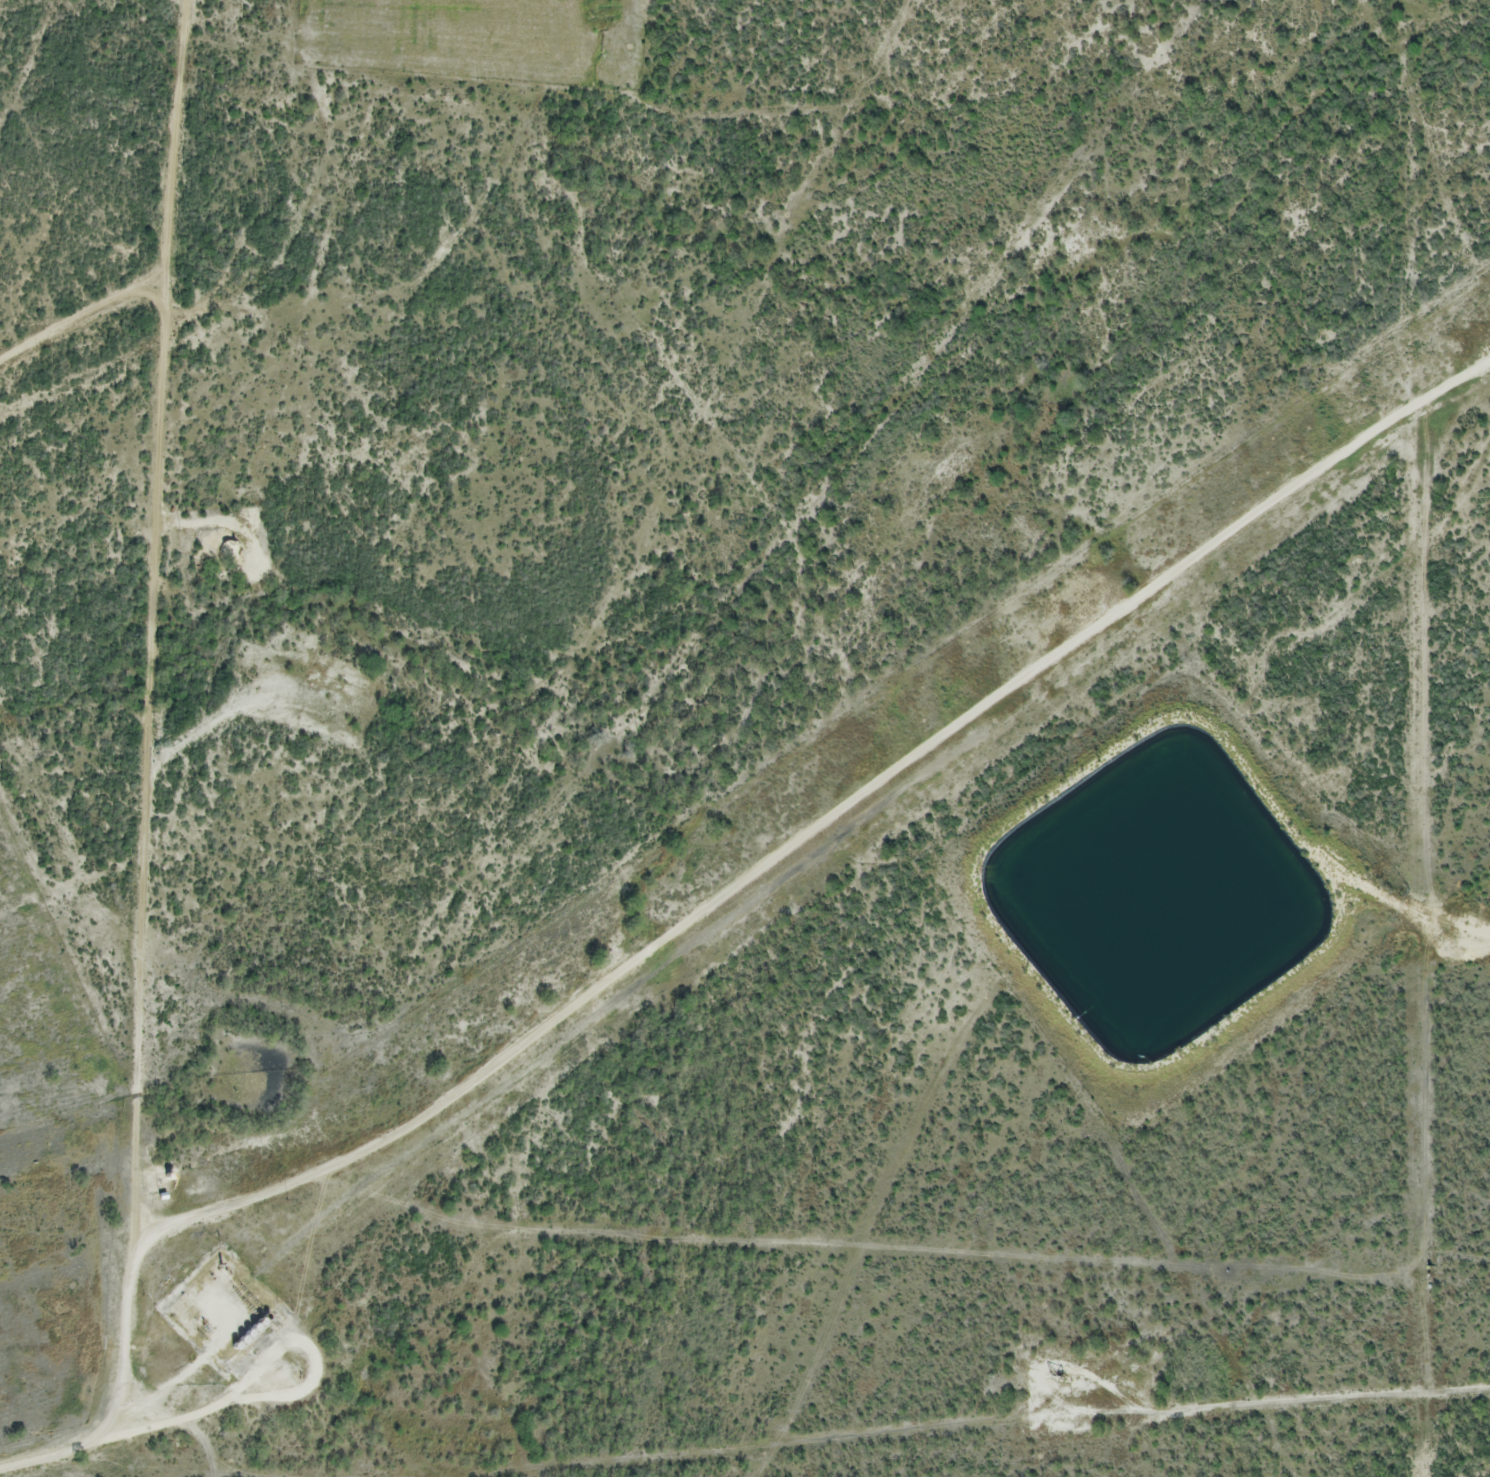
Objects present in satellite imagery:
road: (701, 910)

